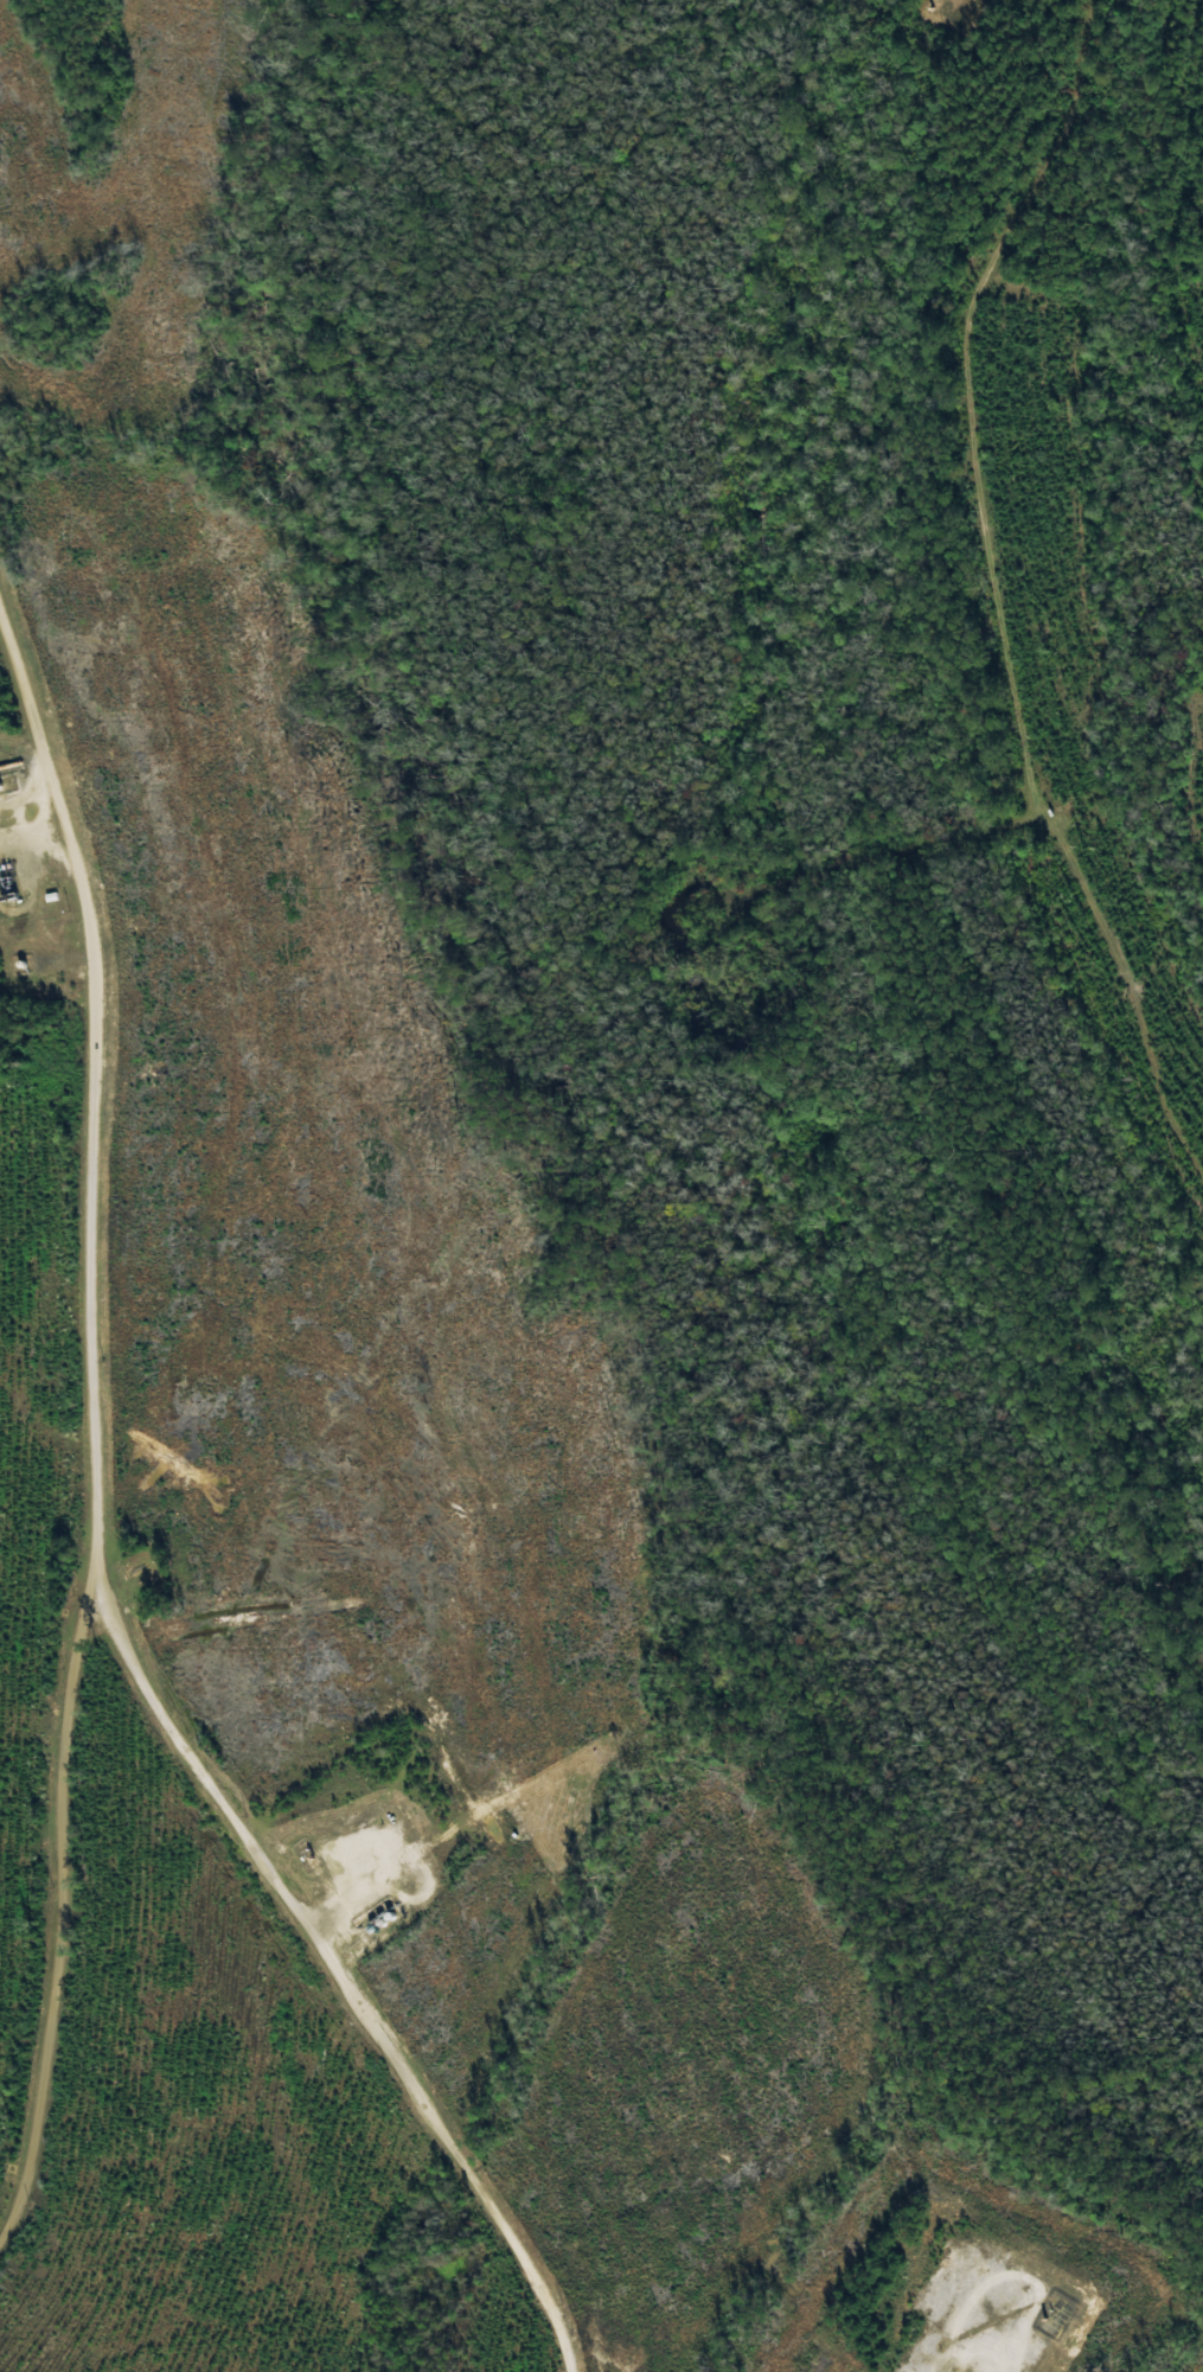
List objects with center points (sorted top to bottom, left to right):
road: (996, 514)
road: (14, 716)
road: (142, 1609)
road: (68, 1961)

